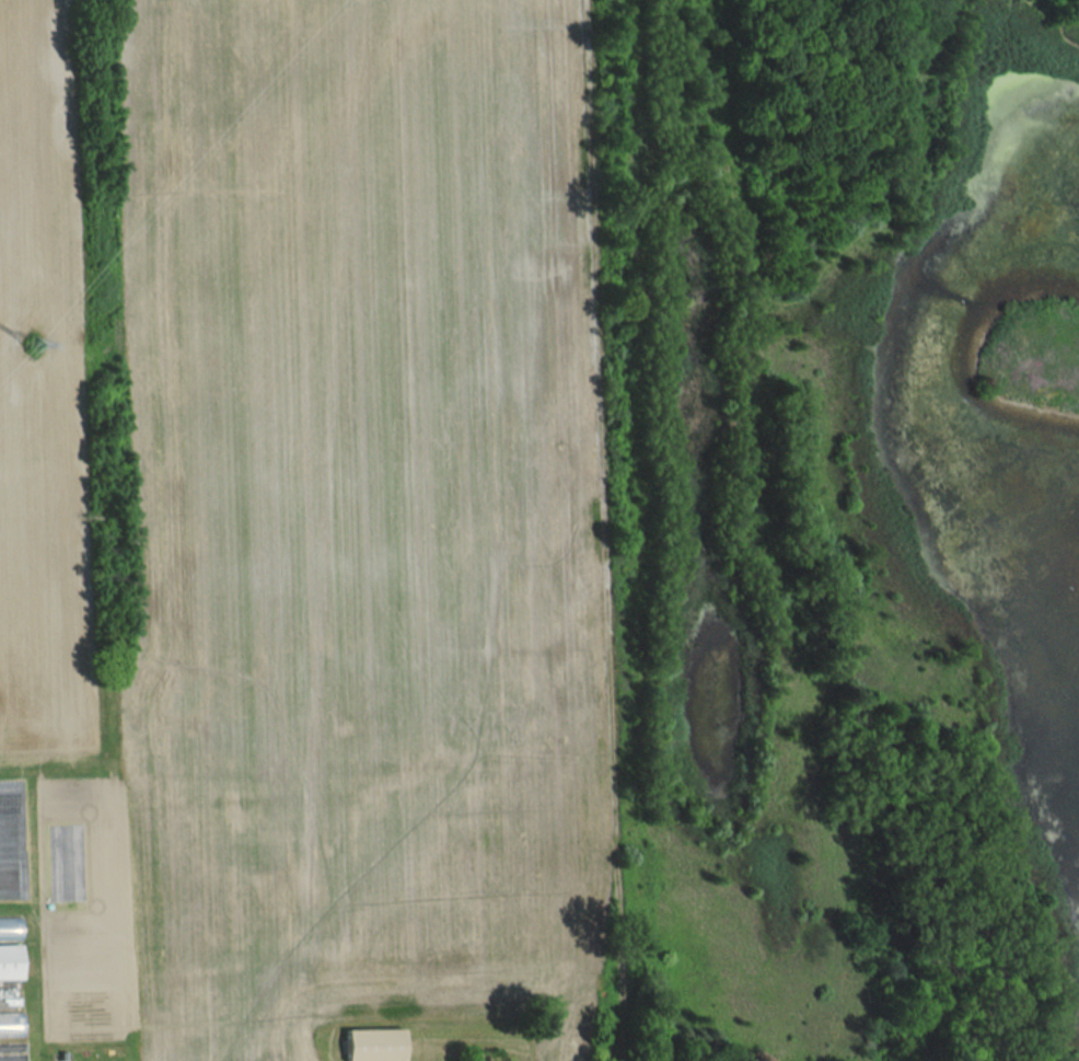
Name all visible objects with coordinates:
power tower: (36, 345)
crop: (328, 509)
building: (10, 929)
building: (10, 961)
building: (11, 1025)
building: (375, 1045)

